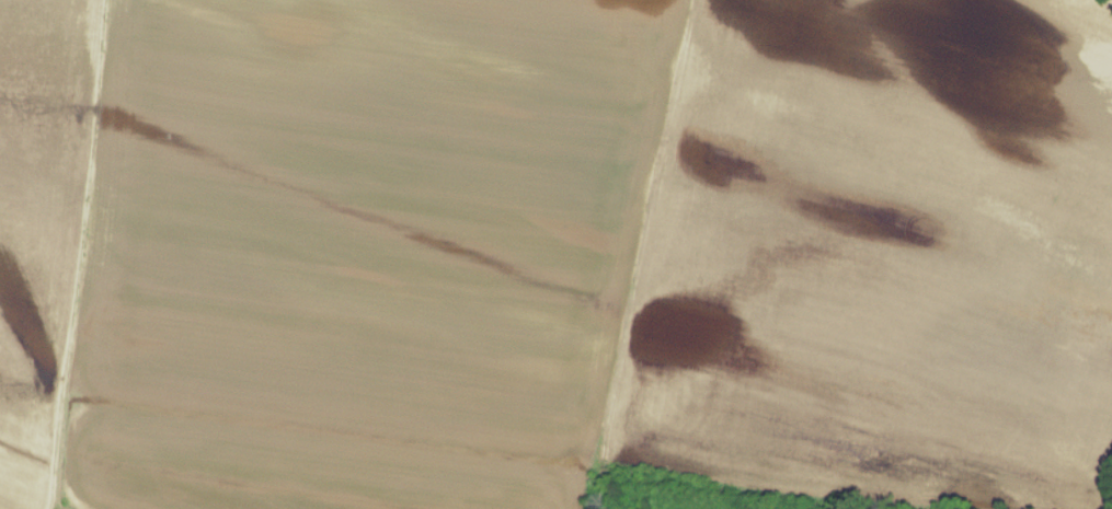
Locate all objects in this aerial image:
road: (77, 254)

